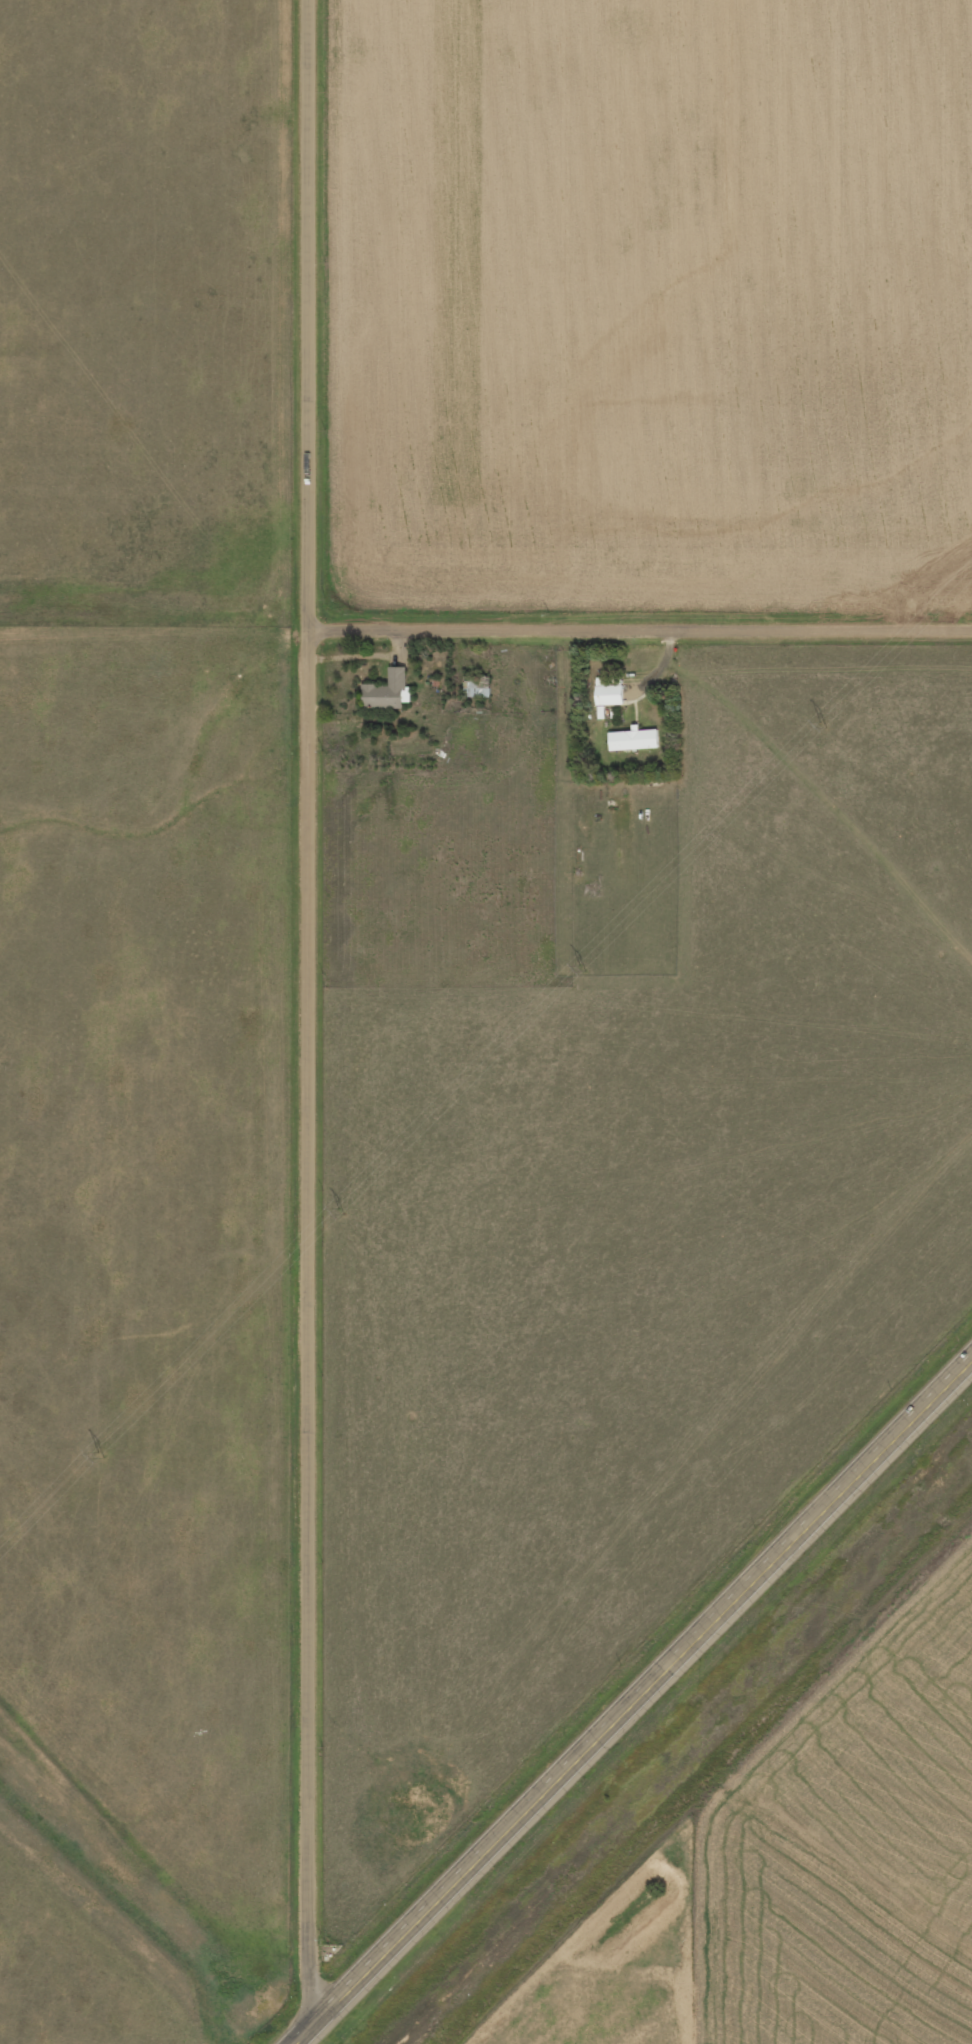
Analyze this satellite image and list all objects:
road: (641, 627)
building: (480, 688)
building: (392, 689)
building: (614, 691)
power tower: (821, 725)
building: (637, 738)
power tower: (581, 967)
road: (311, 1022)
power tower: (340, 1209)
power tower: (99, 1453)
road: (635, 1704)

